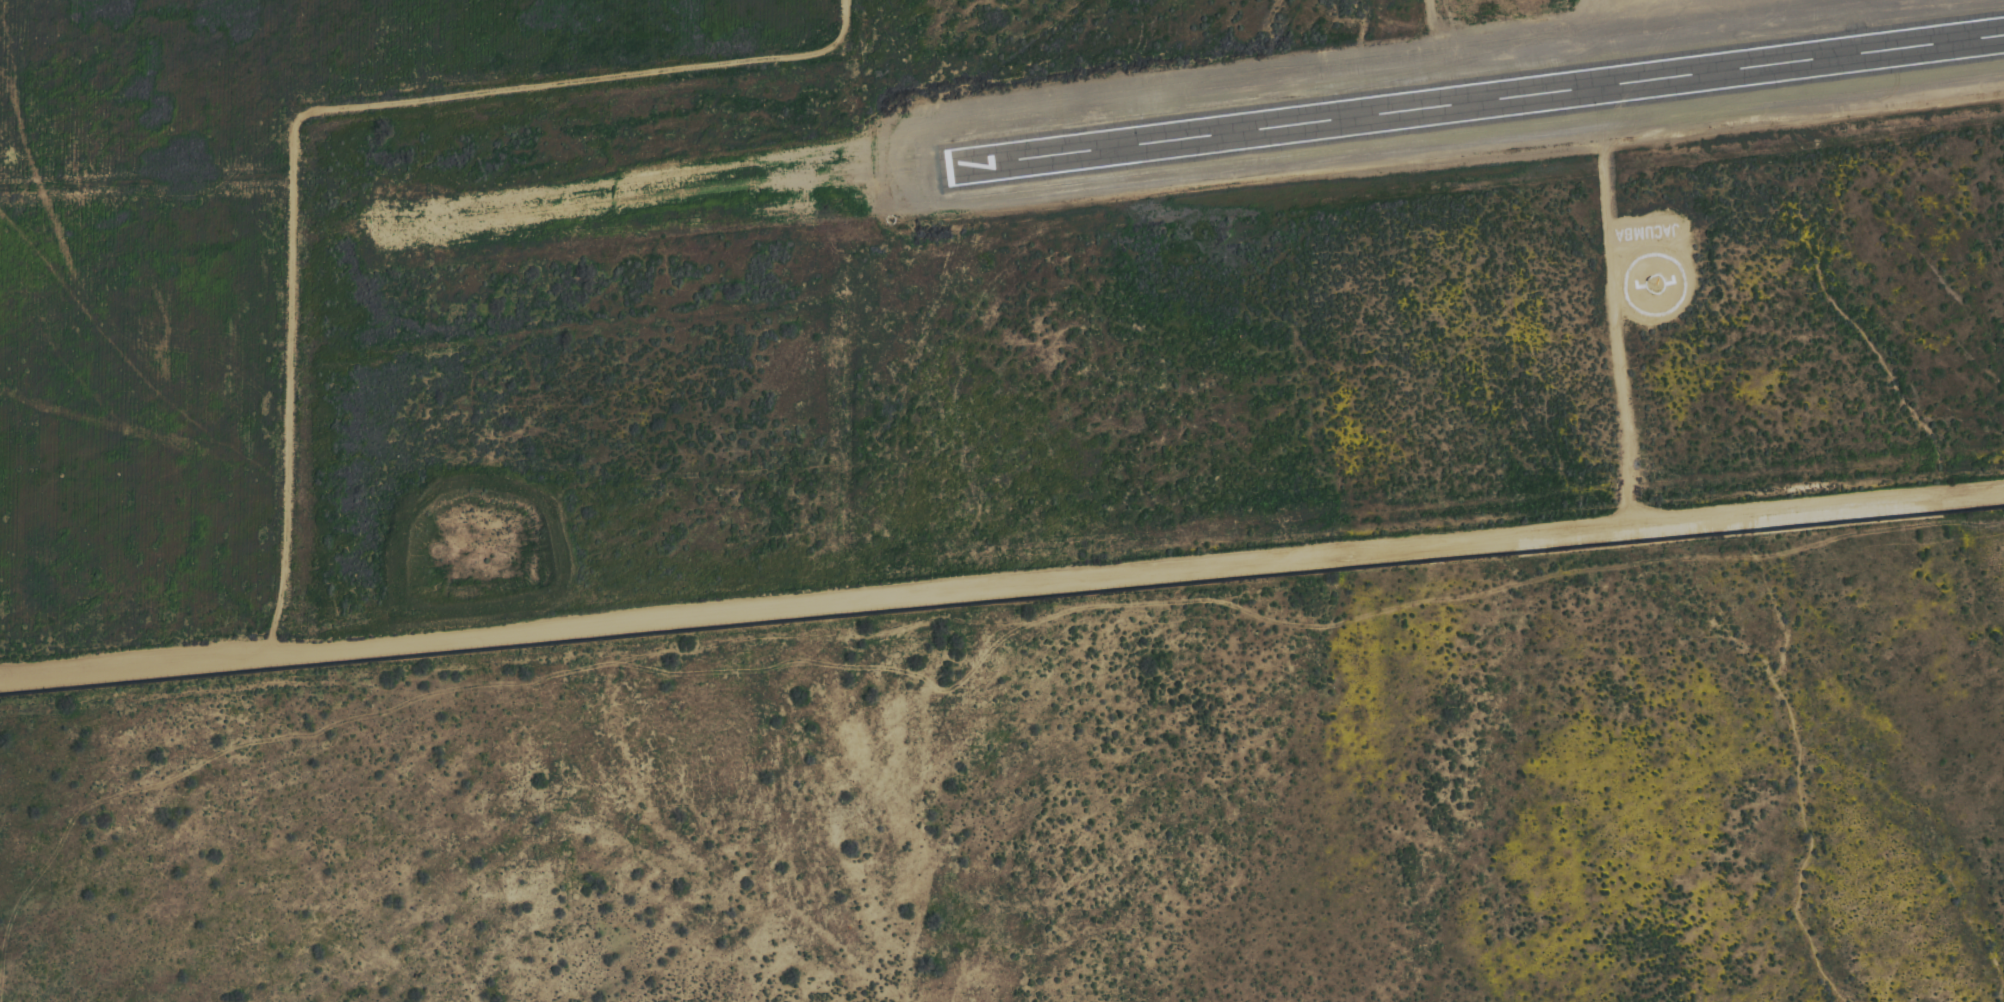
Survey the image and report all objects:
airport apron: (1644, 40)
airport runway: (1476, 102)
airport: (1137, 301)
road: (1002, 595)

